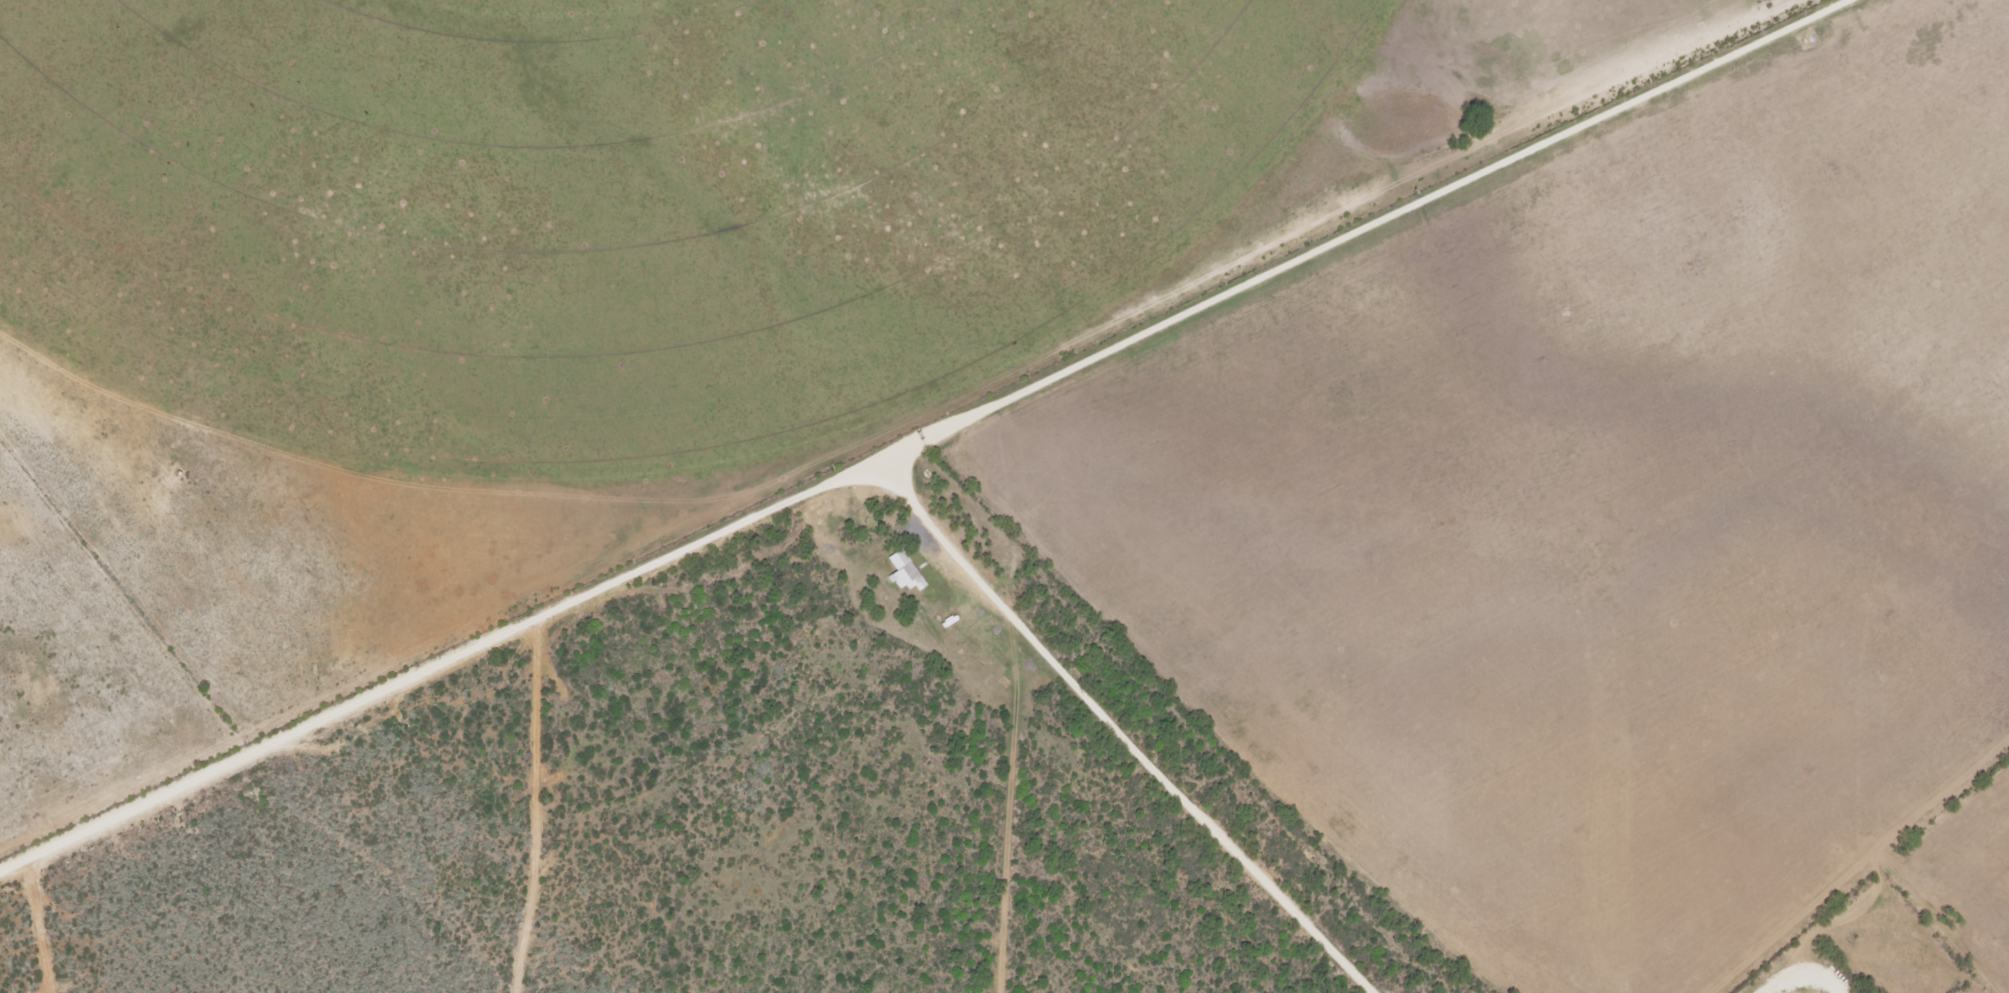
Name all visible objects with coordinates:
road: (1335, 243)
road: (71, 279)
road: (884, 482)
road: (759, 516)
building: (902, 572)
road: (541, 805)

